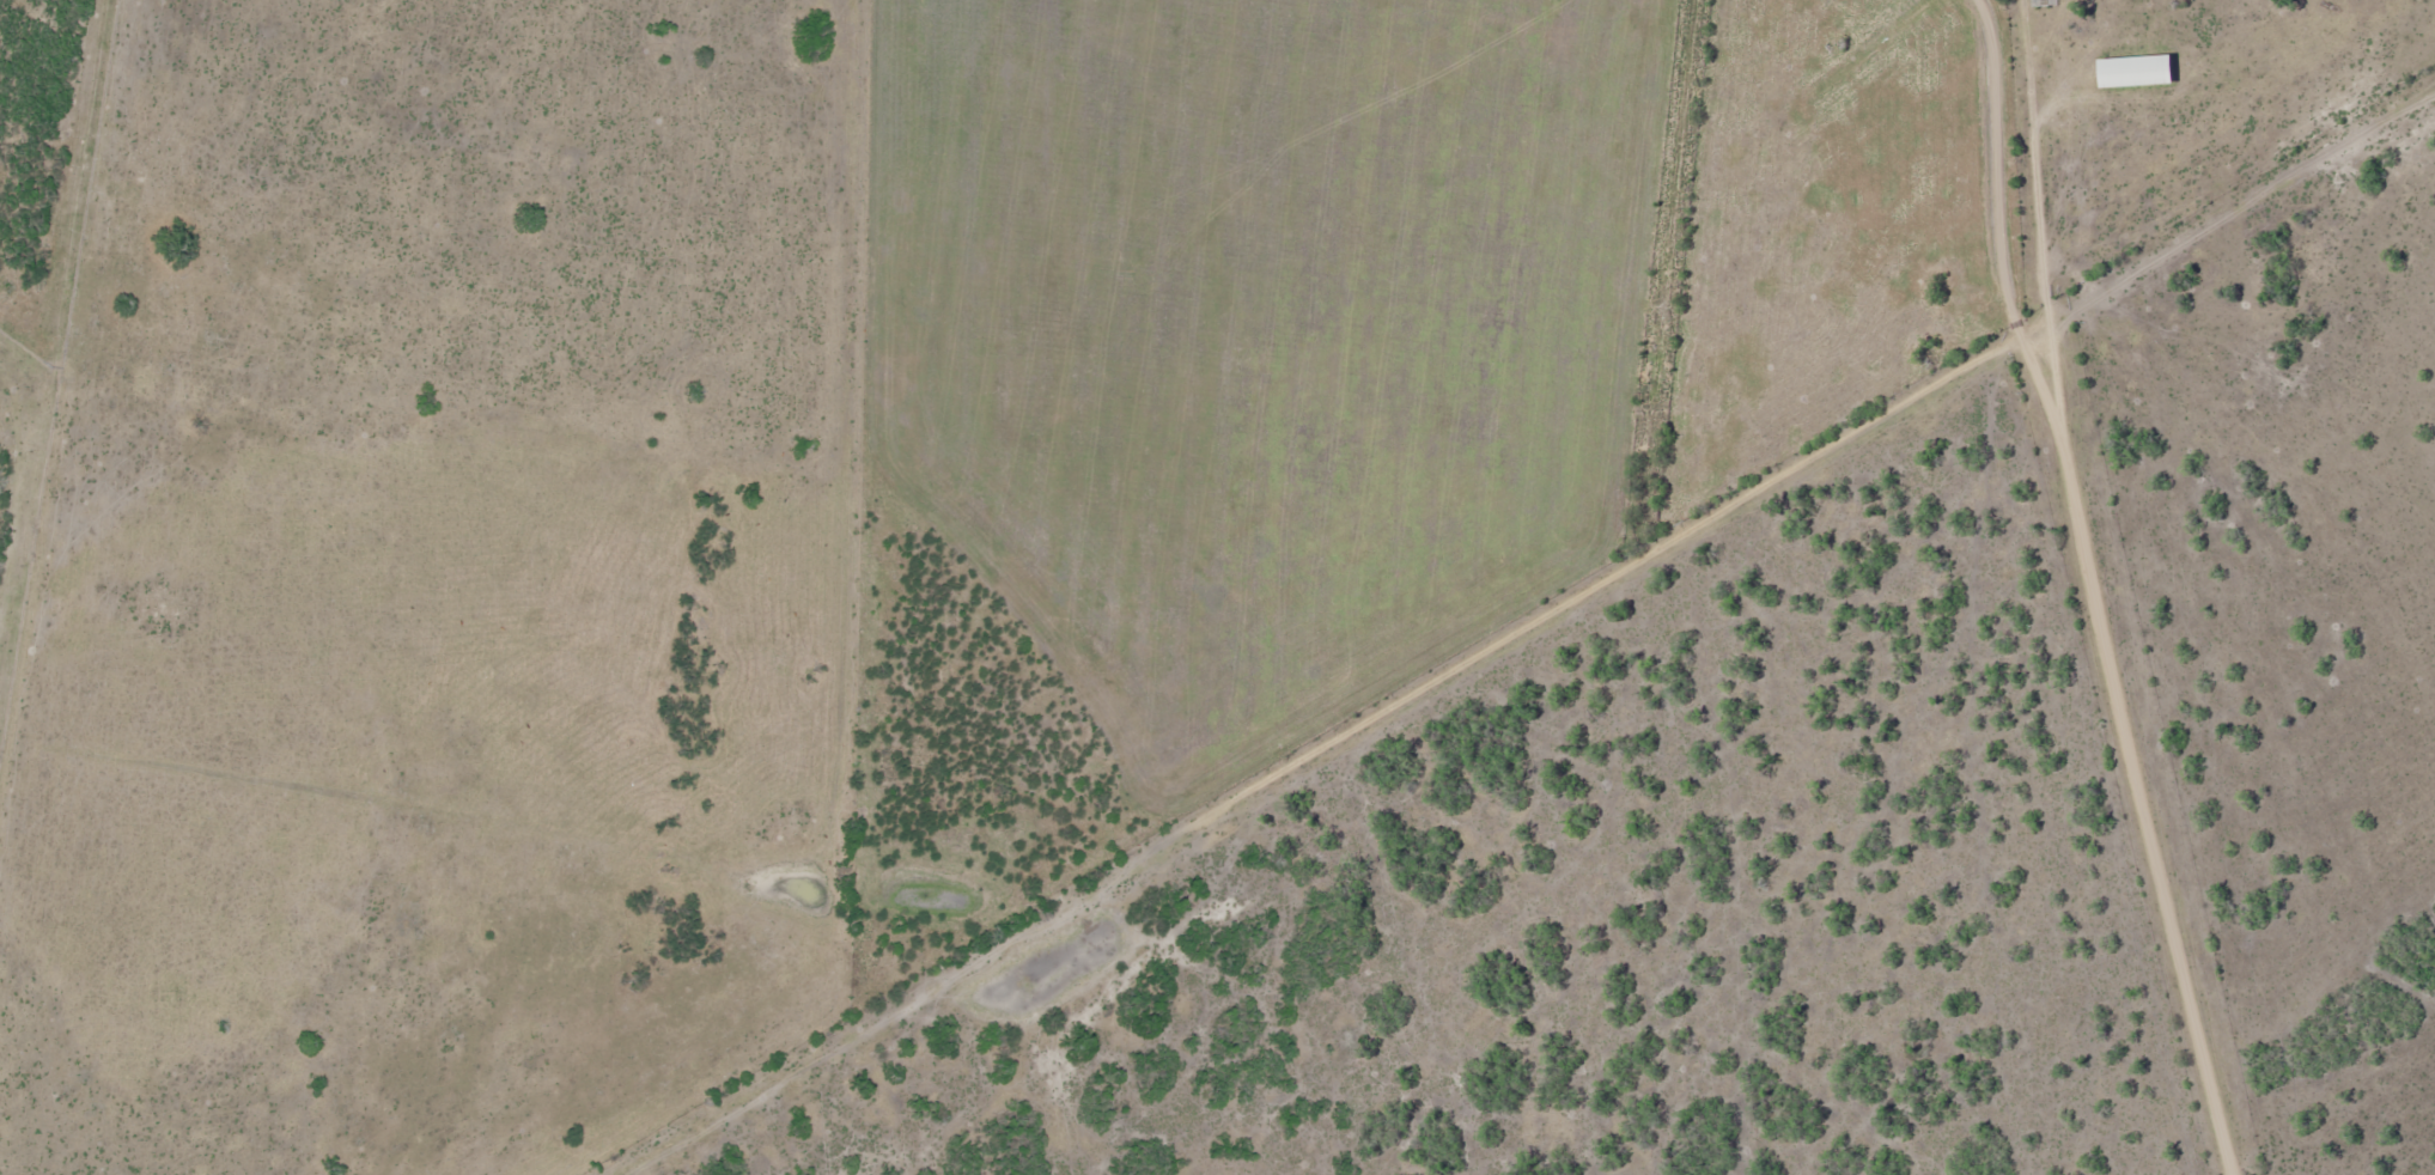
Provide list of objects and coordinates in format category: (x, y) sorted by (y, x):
building: (2043, 2)
building: (2133, 72)
road: (8, 361)
road: (2089, 589)

